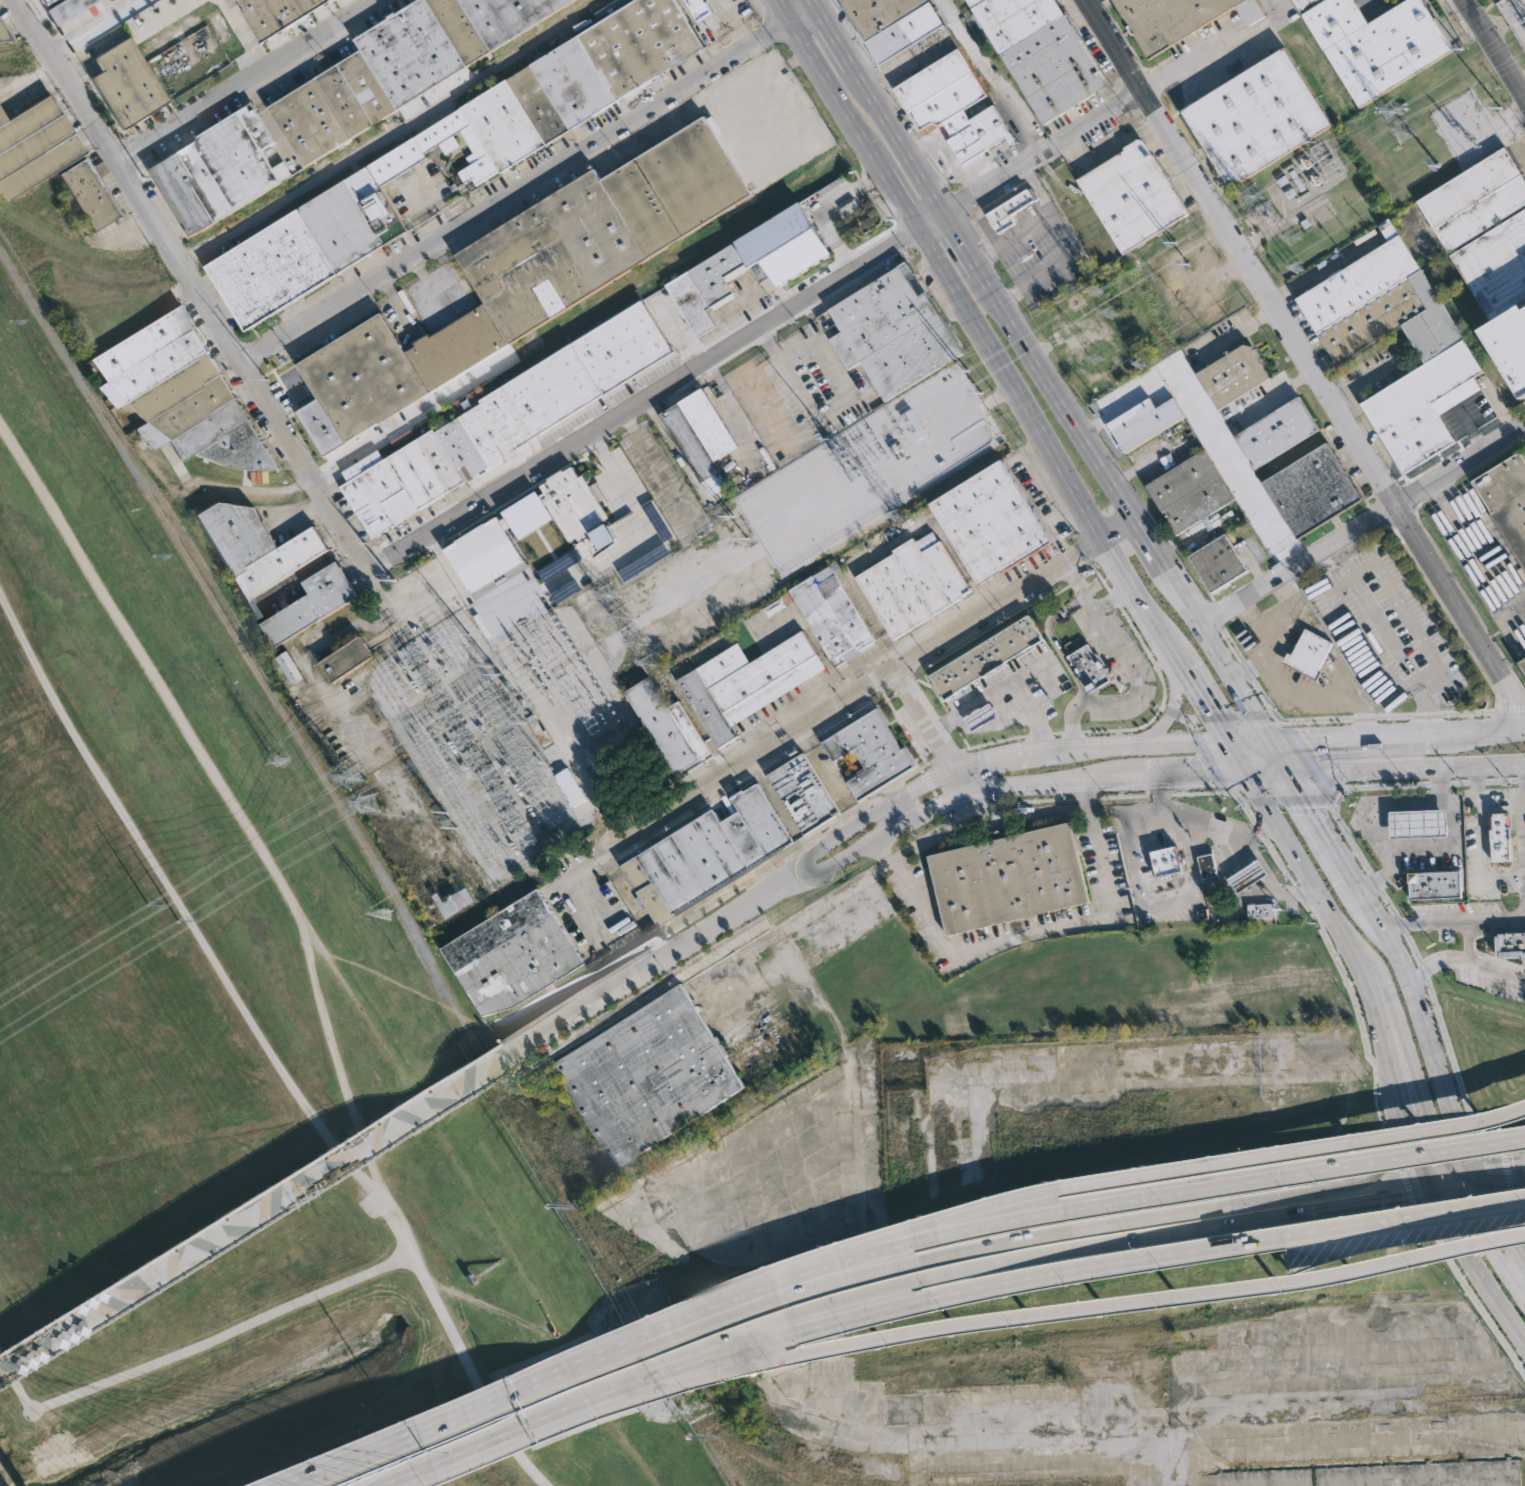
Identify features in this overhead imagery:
building: (51, 4)
road: (1278, 5)
building: (66, 9)
building: (276, 13)
road: (165, 16)
power substation: (1514, 17)
building: (1179, 19)
road: (81, 23)
building: (896, 23)
building: (5, 32)
road: (245, 35)
railway: (71, 39)
building: (445, 39)
building: (1377, 43)
road: (88, 50)
building: (1046, 52)
road: (1492, 52)
road: (818, 73)
road: (995, 77)
road: (247, 82)
building: (127, 83)
building: (561, 86)
building: (954, 104)
building: (335, 107)
power tower: (1391, 111)
building: (1256, 117)
road: (1101, 122)
road: (272, 126)
power tower: (1401, 130)
building: (34, 145)
building: (218, 170)
power substation: (1304, 180)
road: (526, 183)
railway: (316, 185)
road: (893, 189)
road: (1039, 191)
building: (90, 194)
building: (1131, 195)
building: (1475, 199)
building: (1012, 209)
road: (983, 220)
road: (1062, 233)
power tower: (1176, 241)
building: (309, 247)
power tower: (1189, 262)
building: (1496, 264)
building: (527, 278)
building: (702, 281)
road: (192, 287)
railway: (44, 320)
power tower: (10, 321)
building: (888, 332)
building: (1510, 342)
building: (1439, 343)
road: (1308, 364)
power tower: (968, 370)
road: (1042, 371)
building: (1233, 375)
road: (1361, 381)
road: (1013, 388)
power tower: (981, 392)
building: (181, 394)
railway: (462, 401)
road: (649, 401)
road: (838, 406)
road: (407, 418)
building: (508, 419)
building: (1145, 421)
building: (1277, 433)
building: (695, 436)
power substation: (869, 468)
road: (658, 474)
building: (1312, 490)
building: (1189, 492)
building: (1506, 501)
building: (574, 514)
building: (528, 515)
power tower: (734, 515)
road: (642, 519)
building: (990, 522)
road: (1361, 525)
road: (1121, 534)
power tower: (749, 537)
building: (484, 554)
power tower: (152, 555)
building: (1222, 564)
building: (276, 568)
road: (1126, 579)
building: (914, 583)
road: (1112, 598)
building: (835, 616)
road: (1166, 637)
road: (1055, 643)
building: (1309, 654)
building: (986, 657)
building: (348, 660)
building: (1522, 662)
road: (1244, 663)
road: (1435, 666)
building: (1088, 667)
building: (291, 668)
road: (148, 669)
road: (1243, 670)
road: (1135, 676)
building: (746, 683)
power tower: (501, 685)
road: (1006, 687)
road: (851, 695)
road: (1173, 697)
power tower: (517, 701)
road: (1207, 703)
road: (1425, 706)
traffic signals: (1211, 709)
road: (1509, 709)
road: (1173, 712)
road: (1230, 715)
road: (1382, 715)
building: (981, 717)
road: (1358, 719)
road: (925, 720)
power substation: (509, 724)
road: (1146, 724)
building: (667, 726)
road: (1479, 733)
road: (1351, 740)
traffic signals: (1308, 743)
road: (1252, 745)
road: (1218, 747)
building: (868, 751)
road: (1078, 752)
road: (947, 755)
road: (1206, 755)
road: (1277, 757)
road: (1241, 758)
road: (1309, 759)
power tower: (271, 761)
road: (1404, 765)
road: (1266, 769)
road: (920, 771)
road: (1231, 771)
traffic signals: (1205, 773)
road: (942, 777)
road: (1090, 780)
road: (961, 782)
road: (1433, 782)
road: (1436, 783)
road: (1276, 786)
building: (570, 787)
road: (933, 792)
building: (806, 795)
road: (1261, 796)
road: (952, 797)
road: (1290, 800)
road: (1436, 802)
road: (1500, 806)
road: (966, 807)
traffic signals: (1309, 807)
road: (1143, 809)
road: (852, 814)
road: (945, 814)
road: (984, 818)
road: (1199, 818)
building: (1417, 823)
gas station: (1417, 823)
road: (856, 824)
road: (1319, 824)
road: (1258, 831)
road: (1259, 835)
building: (1499, 837)
road: (868, 844)
road: (1477, 846)
building: (704, 855)
building: (1165, 859)
building: (1205, 863)
road: (1255, 871)
building: (1248, 876)
gas station: (1248, 876)
road: (1386, 876)
building: (1013, 877)
building: (1433, 884)
road: (1262, 885)
road: (1288, 892)
road: (556, 893)
road: (1383, 893)
building: (453, 894)
road: (1318, 897)
power tower: (148, 901)
road: (175, 901)
road: (1170, 902)
road: (1366, 903)
building: (1259, 909)
power tower: (385, 914)
road: (1453, 922)
power tower: (165, 923)
road: (1031, 934)
road: (1466, 943)
building: (1510, 944)
road: (1362, 949)
building: (516, 953)
road: (665, 958)
road: (1464, 963)
road: (1433, 1009)
road: (1375, 1018)
road: (1427, 1047)
road: (338, 1051)
road: (1414, 1074)
building: (649, 1076)
road: (1381, 1077)
road: (1394, 1086)
park: (224, 1101)
road: (1413, 1142)
road: (1392, 1150)
traffic signals: (1439, 1159)
traffic signals: (1419, 1160)
traffic signals: (1510, 1163)
road: (1497, 1164)
road: (1213, 1166)
road: (1459, 1171)
road: (1436, 1174)
road: (1504, 1176)
road: (1442, 1179)
road: (1474, 1179)
road: (1395, 1180)
road: (1404, 1181)
road: (1460, 1184)
road: (1501, 1184)
road: (1429, 1185)
road: (1466, 1190)
road: (1172, 1192)
road: (1444, 1193)
road: (1291, 1196)
traffic signals: (1402, 1200)
road: (266, 1201)
power tower: (546, 1208)
road: (1335, 1209)
traffic signals: (1494, 1215)
road: (1517, 1215)
road: (1494, 1216)
road: (1139, 1219)
road: (986, 1244)
road: (1076, 1245)
road: (862, 1246)
road: (1489, 1247)
road: (1518, 1256)
road: (1152, 1258)
road: (885, 1266)
road: (1476, 1272)
road: (759, 1289)
road: (778, 1299)
road: (1471, 1301)
road: (1099, 1305)
road: (789, 1312)
road: (649, 1332)
road: (651, 1339)
road: (457, 1341)
road: (193, 1347)
road: (726, 1349)
road: (641, 1371)
road: (642, 1376)
road: (645, 1383)
road: (592, 1394)
road: (539, 1415)
road: (433, 1416)
river: (242, 1422)
power tower: (688, 1437)
road: (436, 1456)
railway: (752, 1479)

